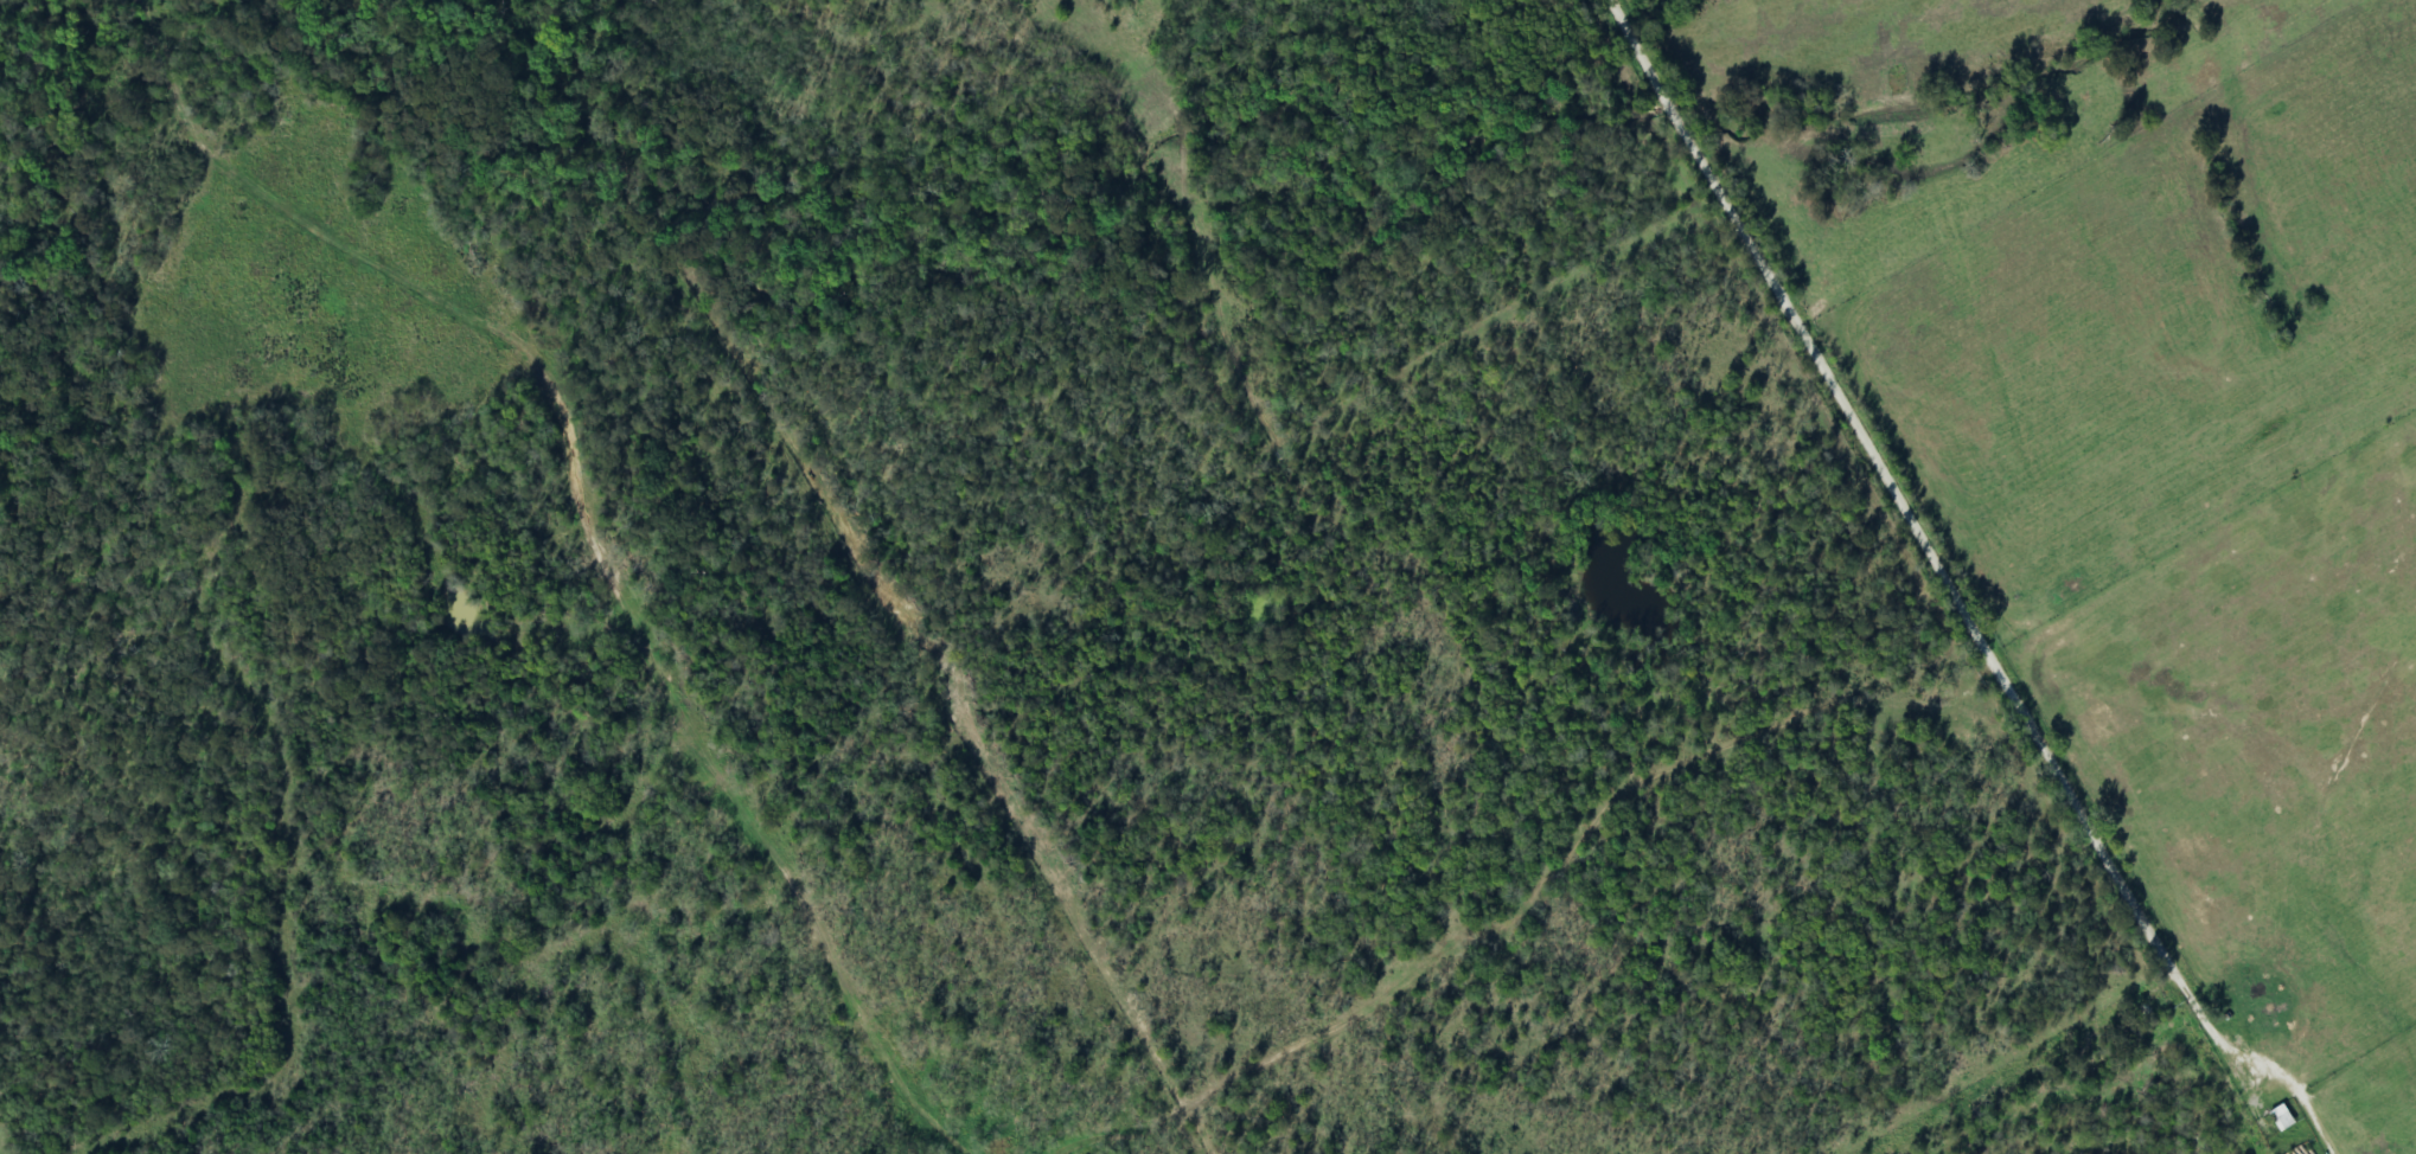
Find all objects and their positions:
road: (1906, 494)

